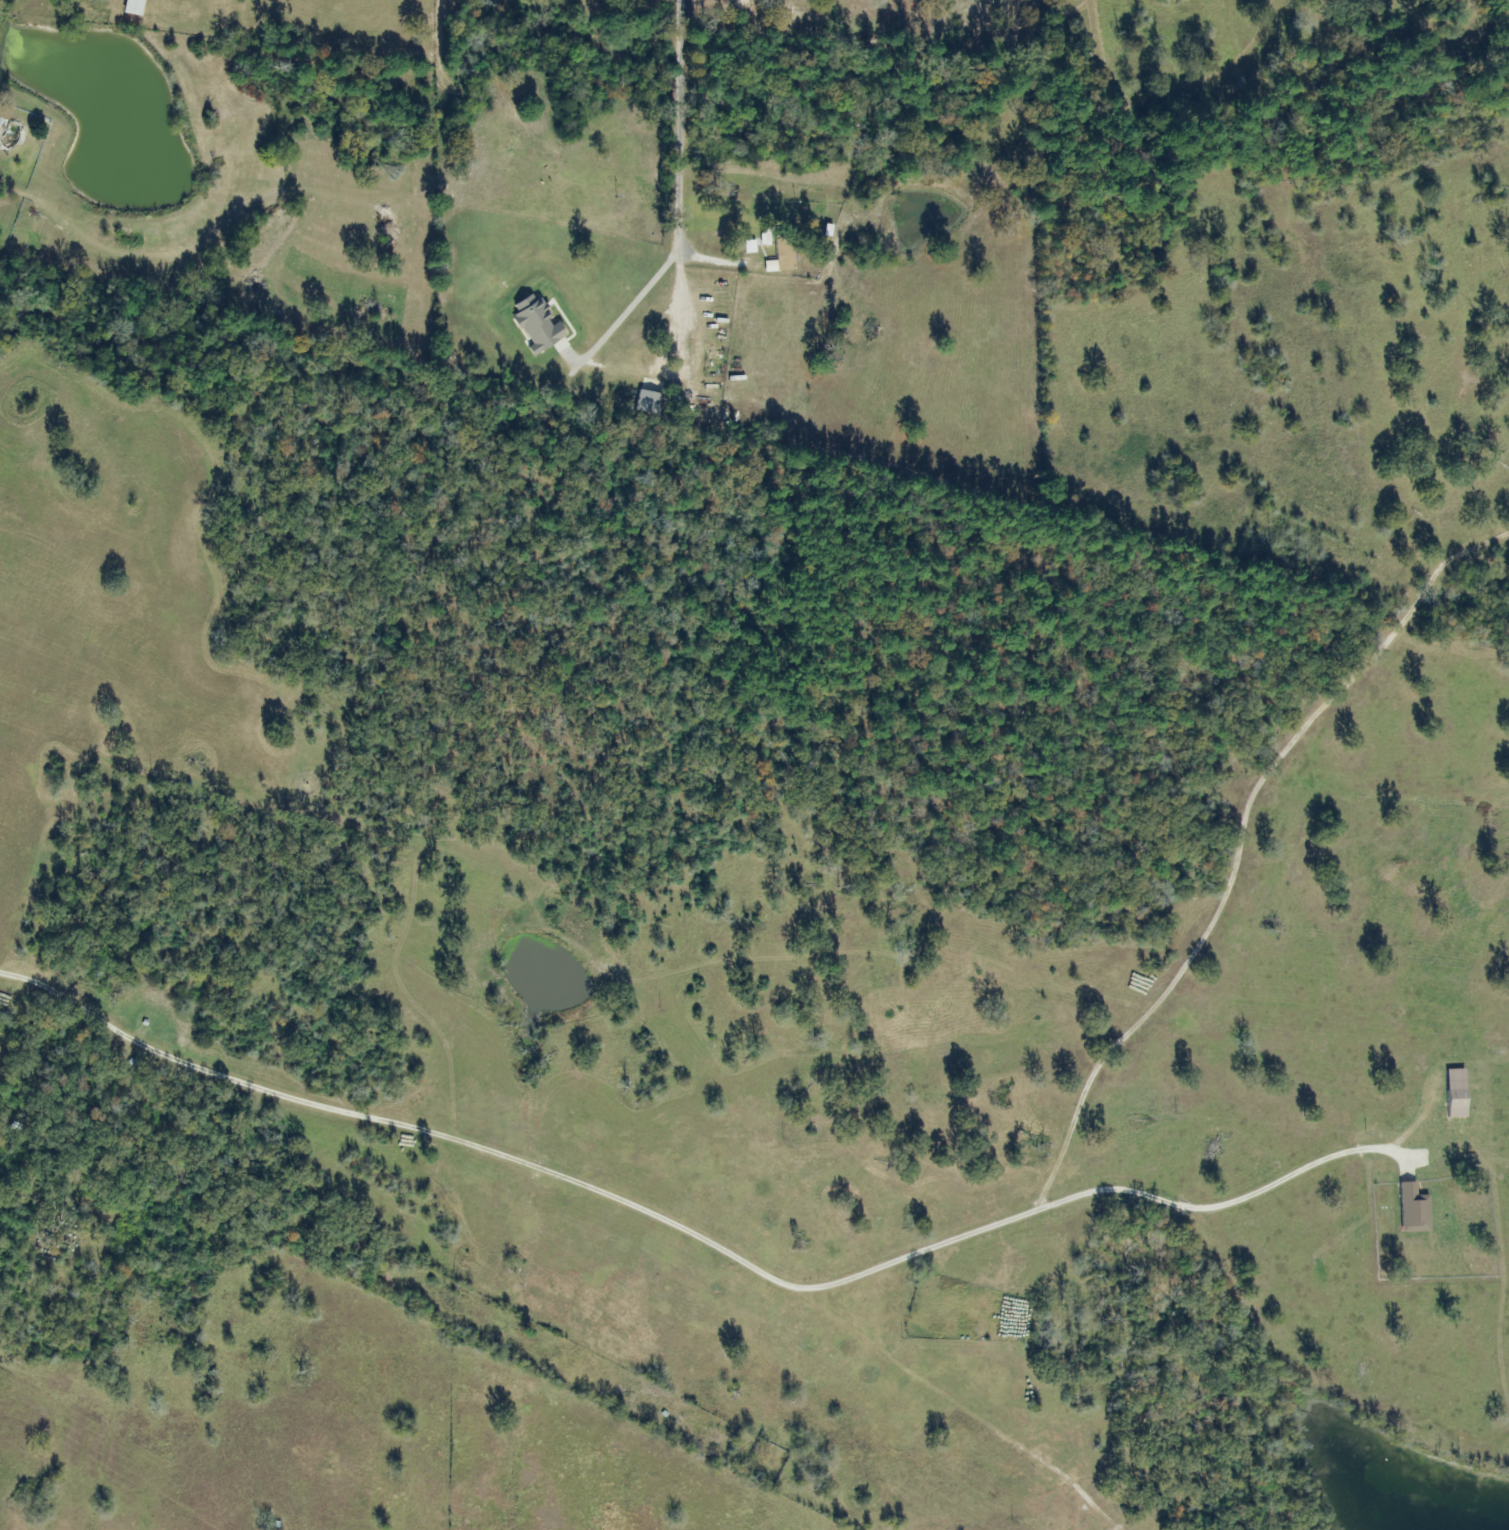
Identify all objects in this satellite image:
road: (677, 125)
building: (781, 256)
building: (1455, 1094)
road: (607, 1207)
building: (1413, 1211)

